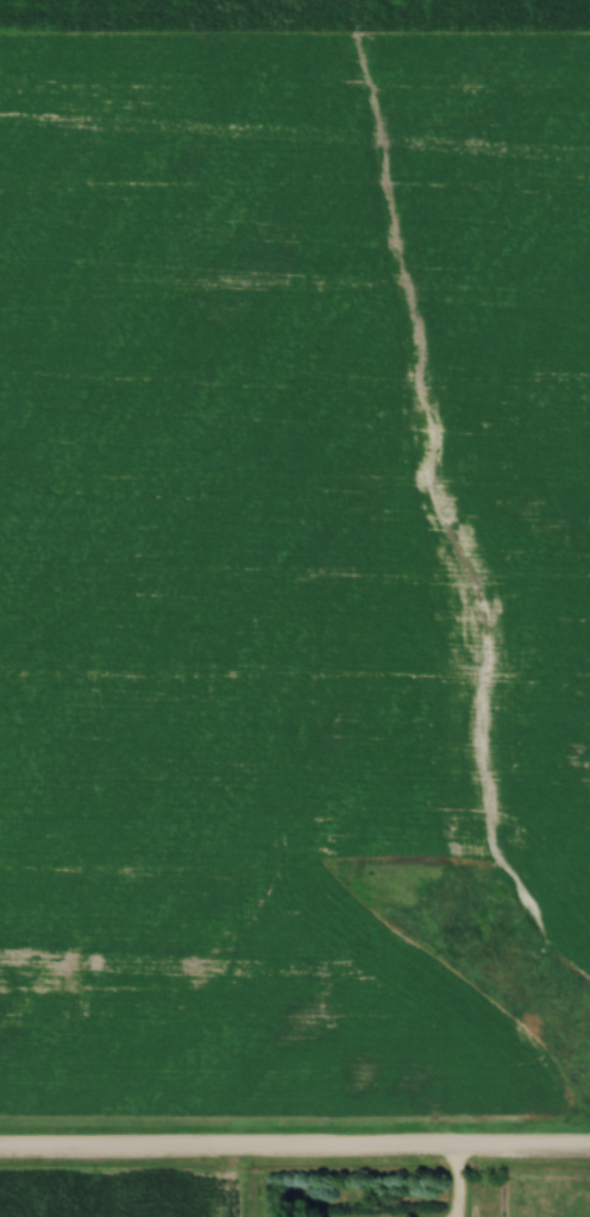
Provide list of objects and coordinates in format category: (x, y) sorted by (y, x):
road: (294, 1149)
road: (452, 1184)

